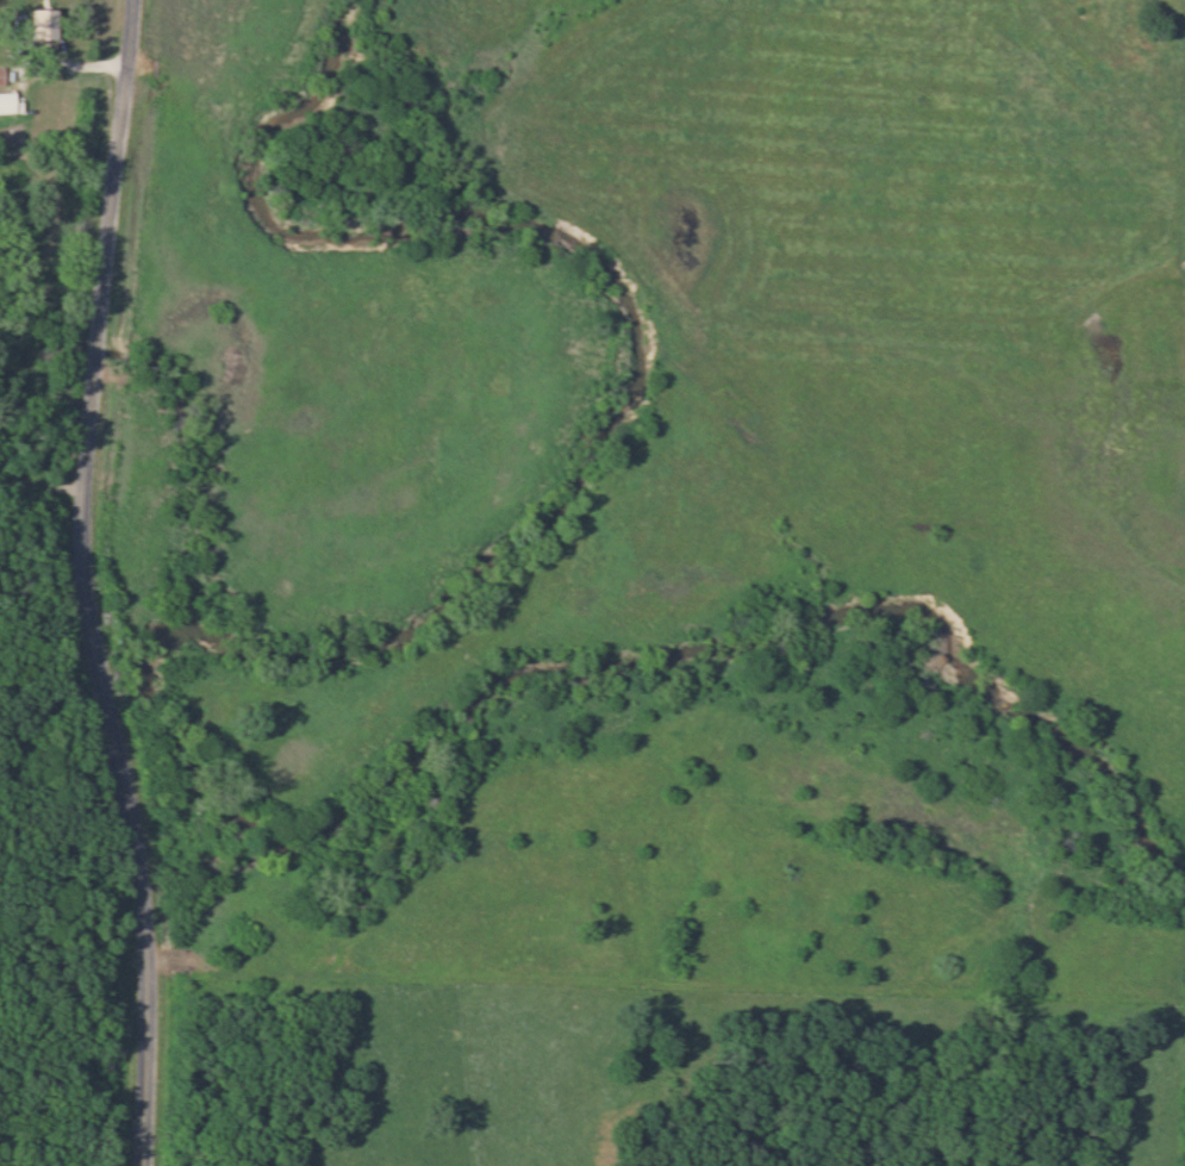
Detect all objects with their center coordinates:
building: (38, 24)
building: (0, 76)
building: (6, 102)
road: (85, 584)

